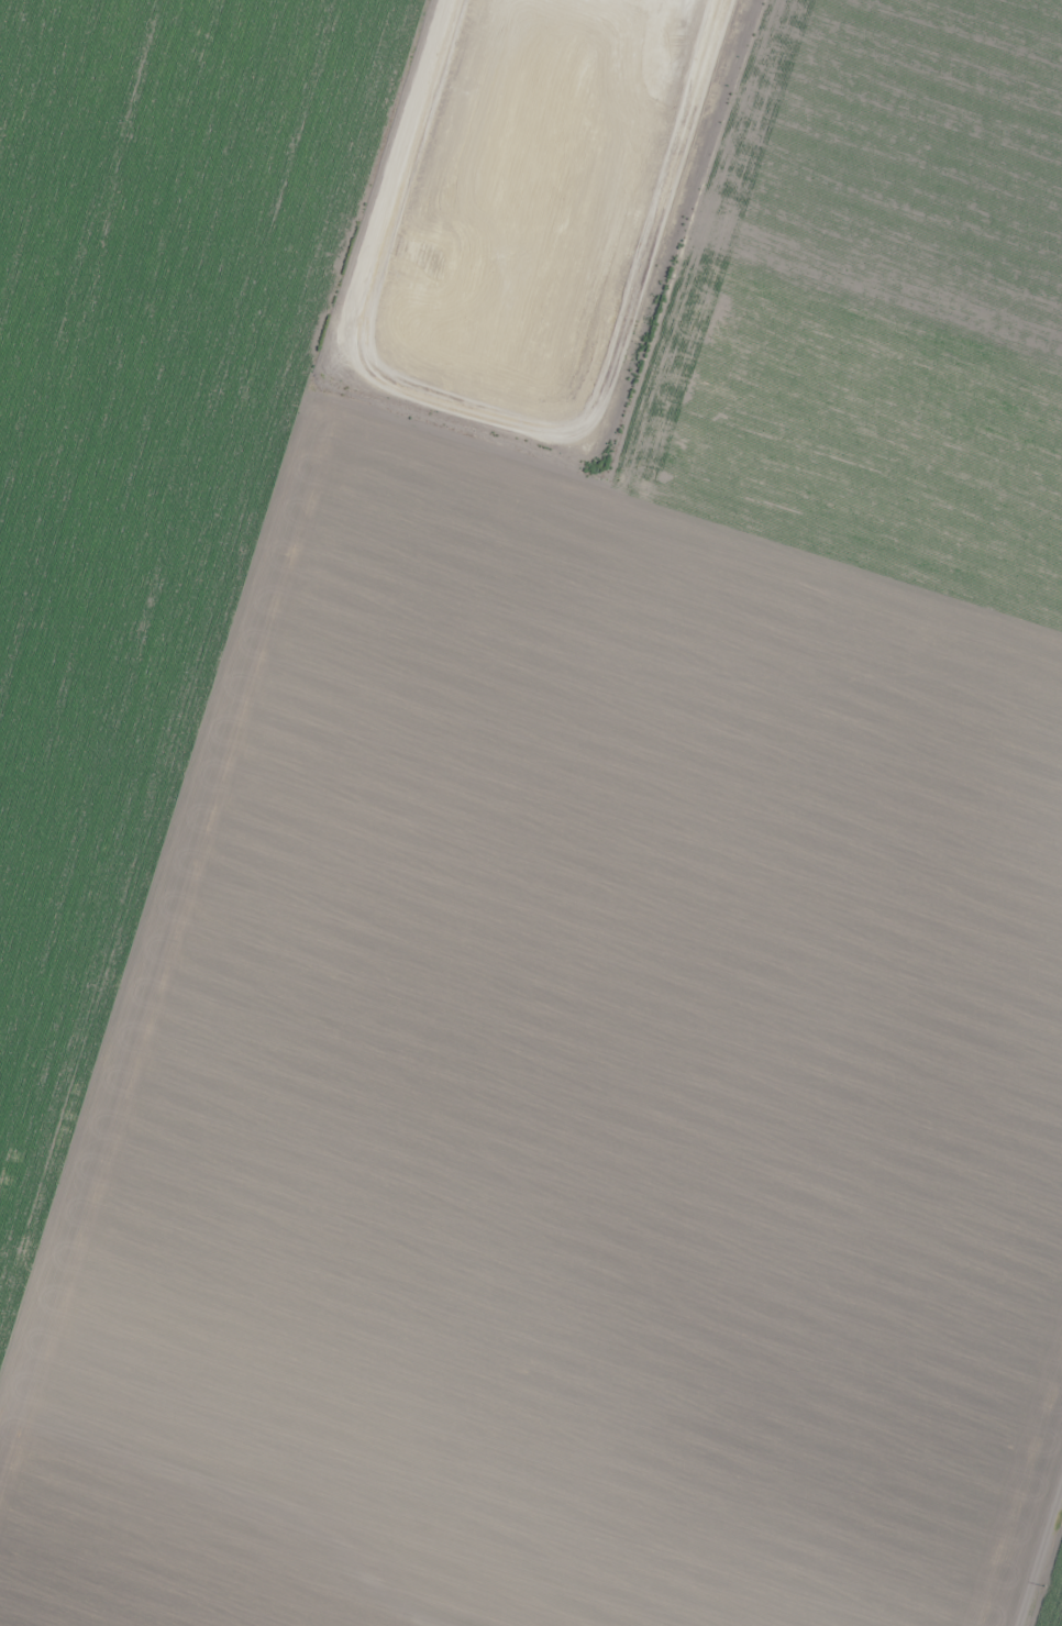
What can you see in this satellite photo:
road: (1060, 1621)

